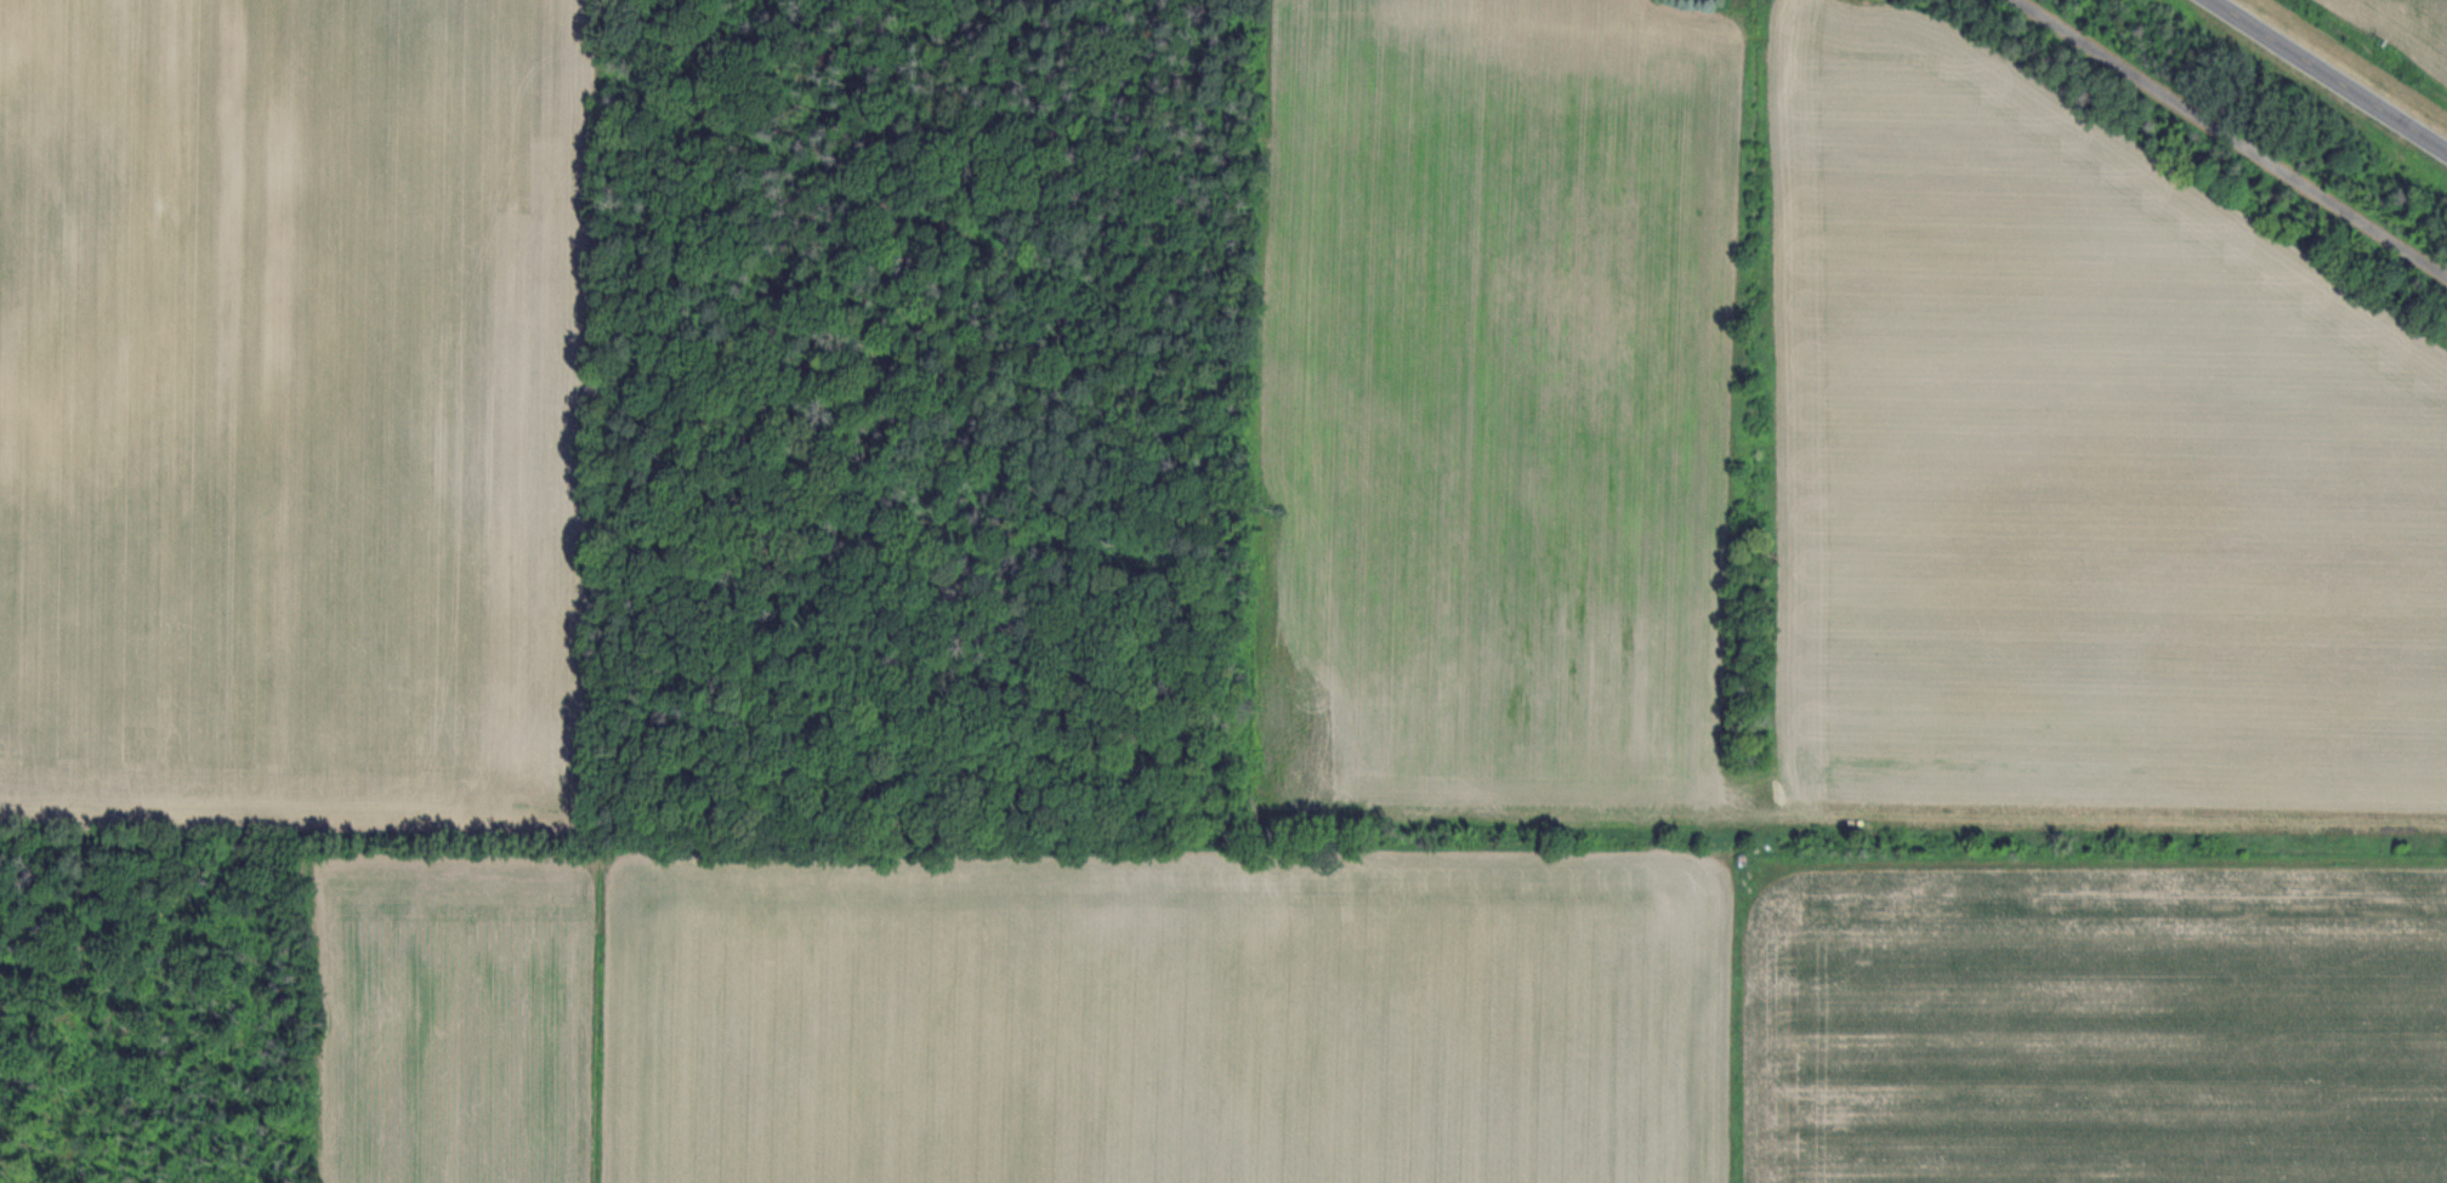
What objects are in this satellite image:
road: (2335, 72)
road: (2231, 138)

